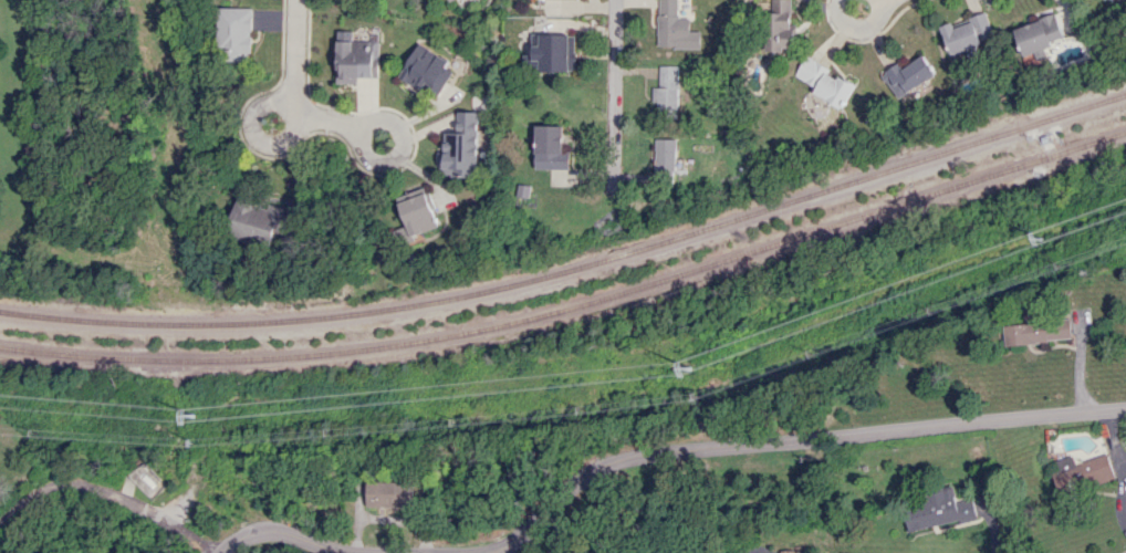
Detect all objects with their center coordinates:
building: (449, 0)
road: (857, 24)
building: (778, 28)
building: (676, 29)
building: (236, 32)
building: (968, 32)
building: (1038, 36)
road: (295, 51)
building: (553, 52)
building: (355, 59)
building: (425, 72)
building: (907, 76)
building: (824, 82)
building: (666, 90)
road: (615, 96)
road: (387, 121)
road: (256, 131)
park: (122, 144)
building: (460, 147)
building: (549, 148)
building: (666, 156)
building: (416, 211)
building: (259, 221)
railway: (573, 269)
railway: (573, 310)
building: (1036, 328)
road: (782, 441)
building: (1082, 472)
building: (389, 494)
road: (27, 500)
road: (139, 508)
building: (936, 511)
road: (284, 531)

